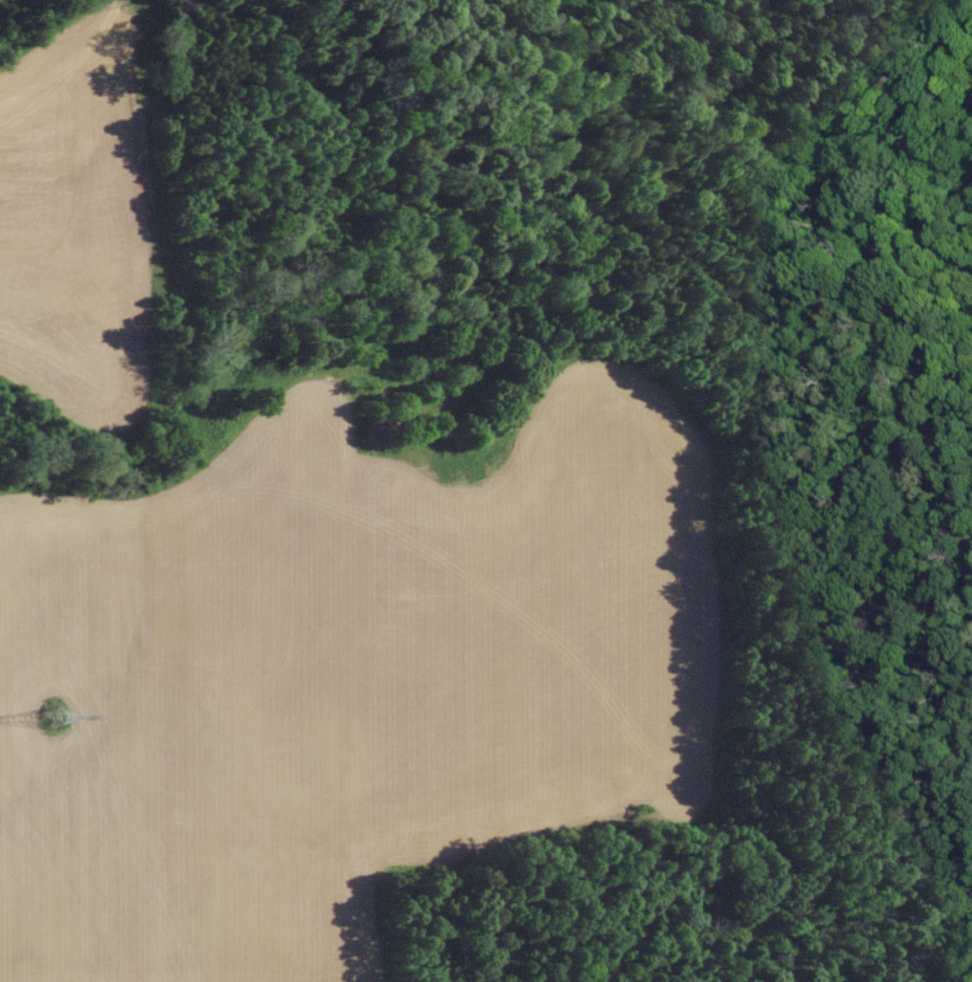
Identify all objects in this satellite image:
road: (136, 315)
power tower: (47, 719)

